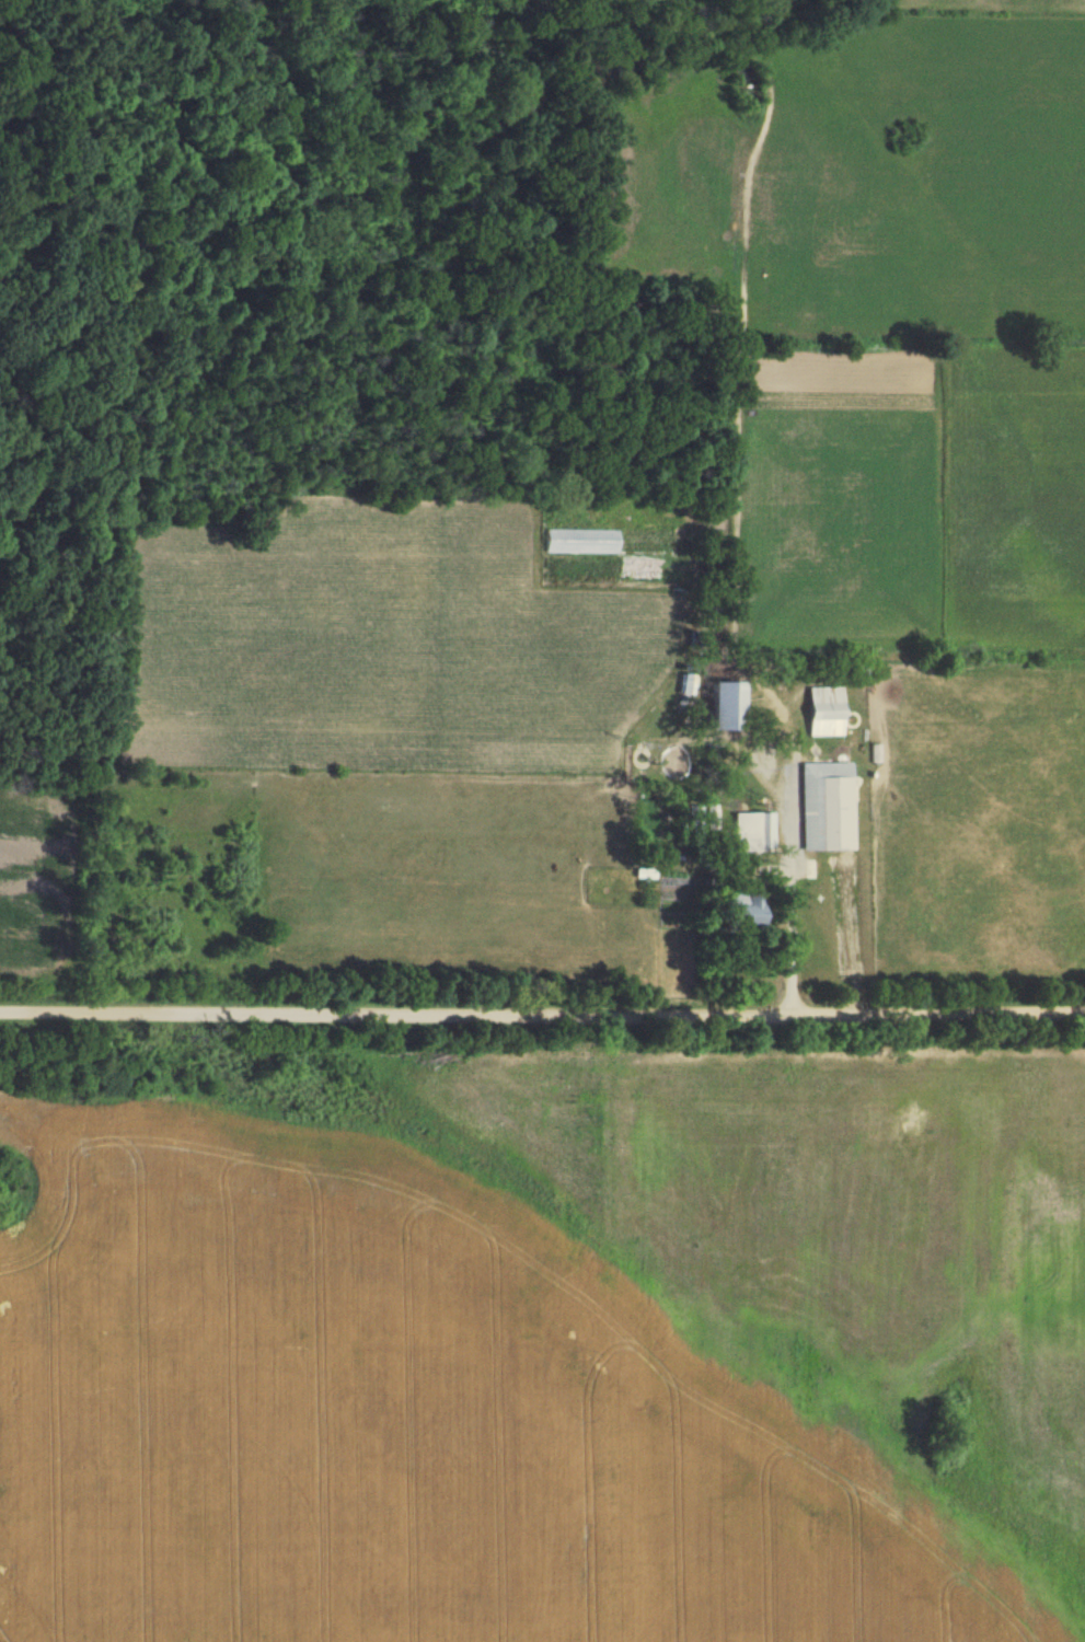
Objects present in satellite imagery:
building: (580, 540)
building: (650, 570)
building: (861, 672)
building: (715, 704)
building: (822, 709)
building: (823, 805)
building: (752, 831)
building: (734, 910)
road: (542, 1009)

